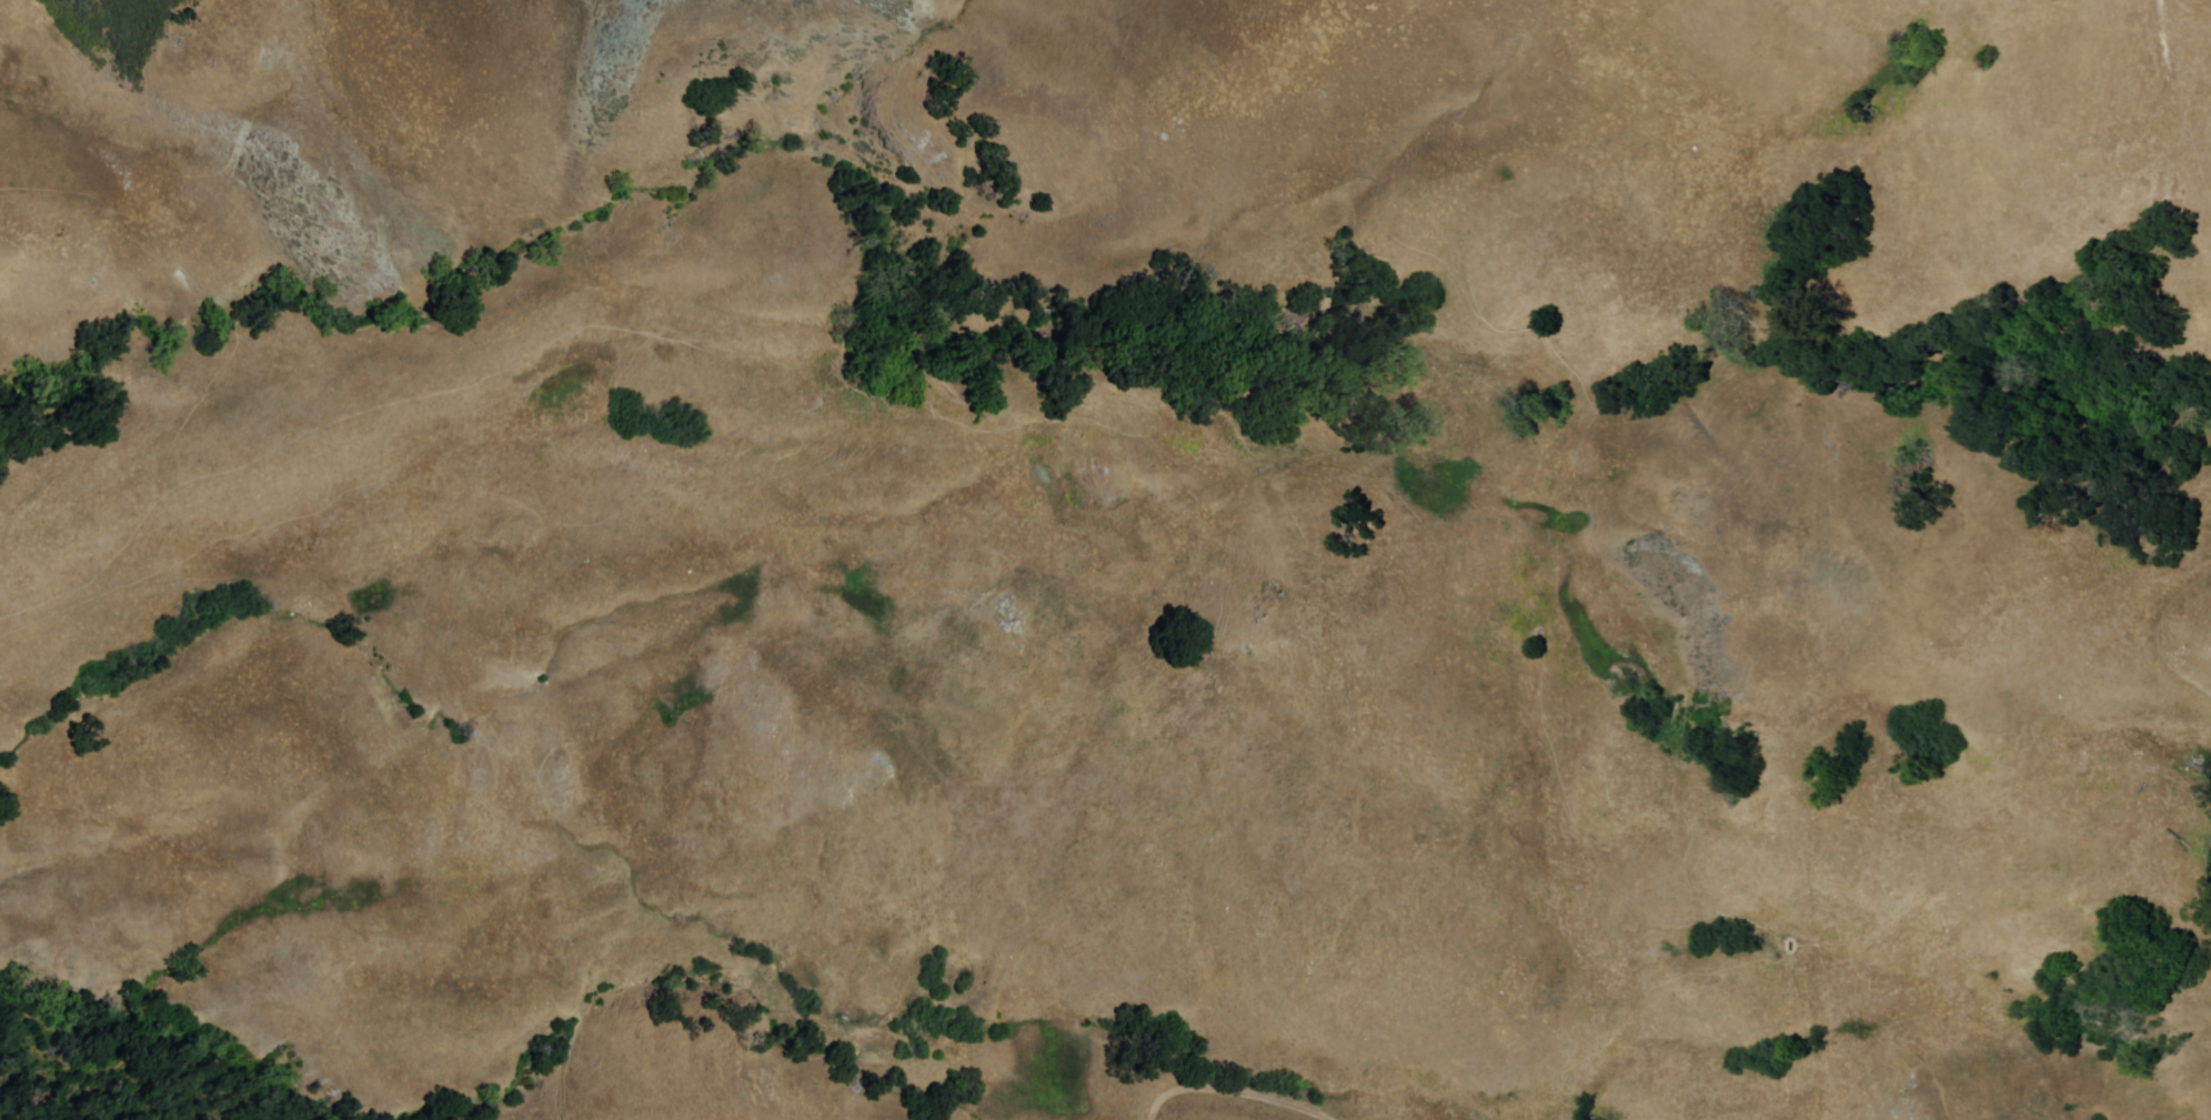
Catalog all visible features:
road: (1240, 1090)

